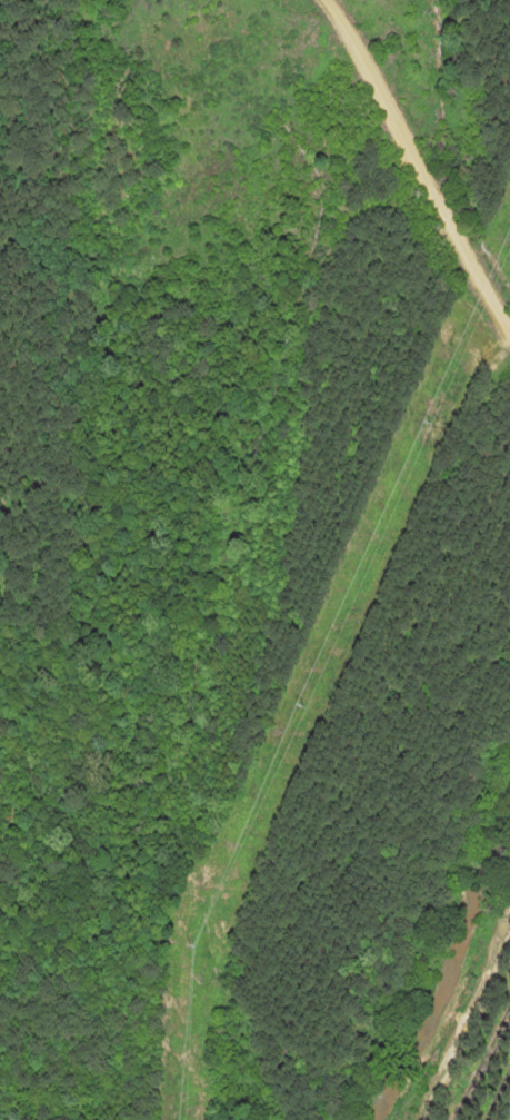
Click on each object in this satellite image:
road: (419, 158)

